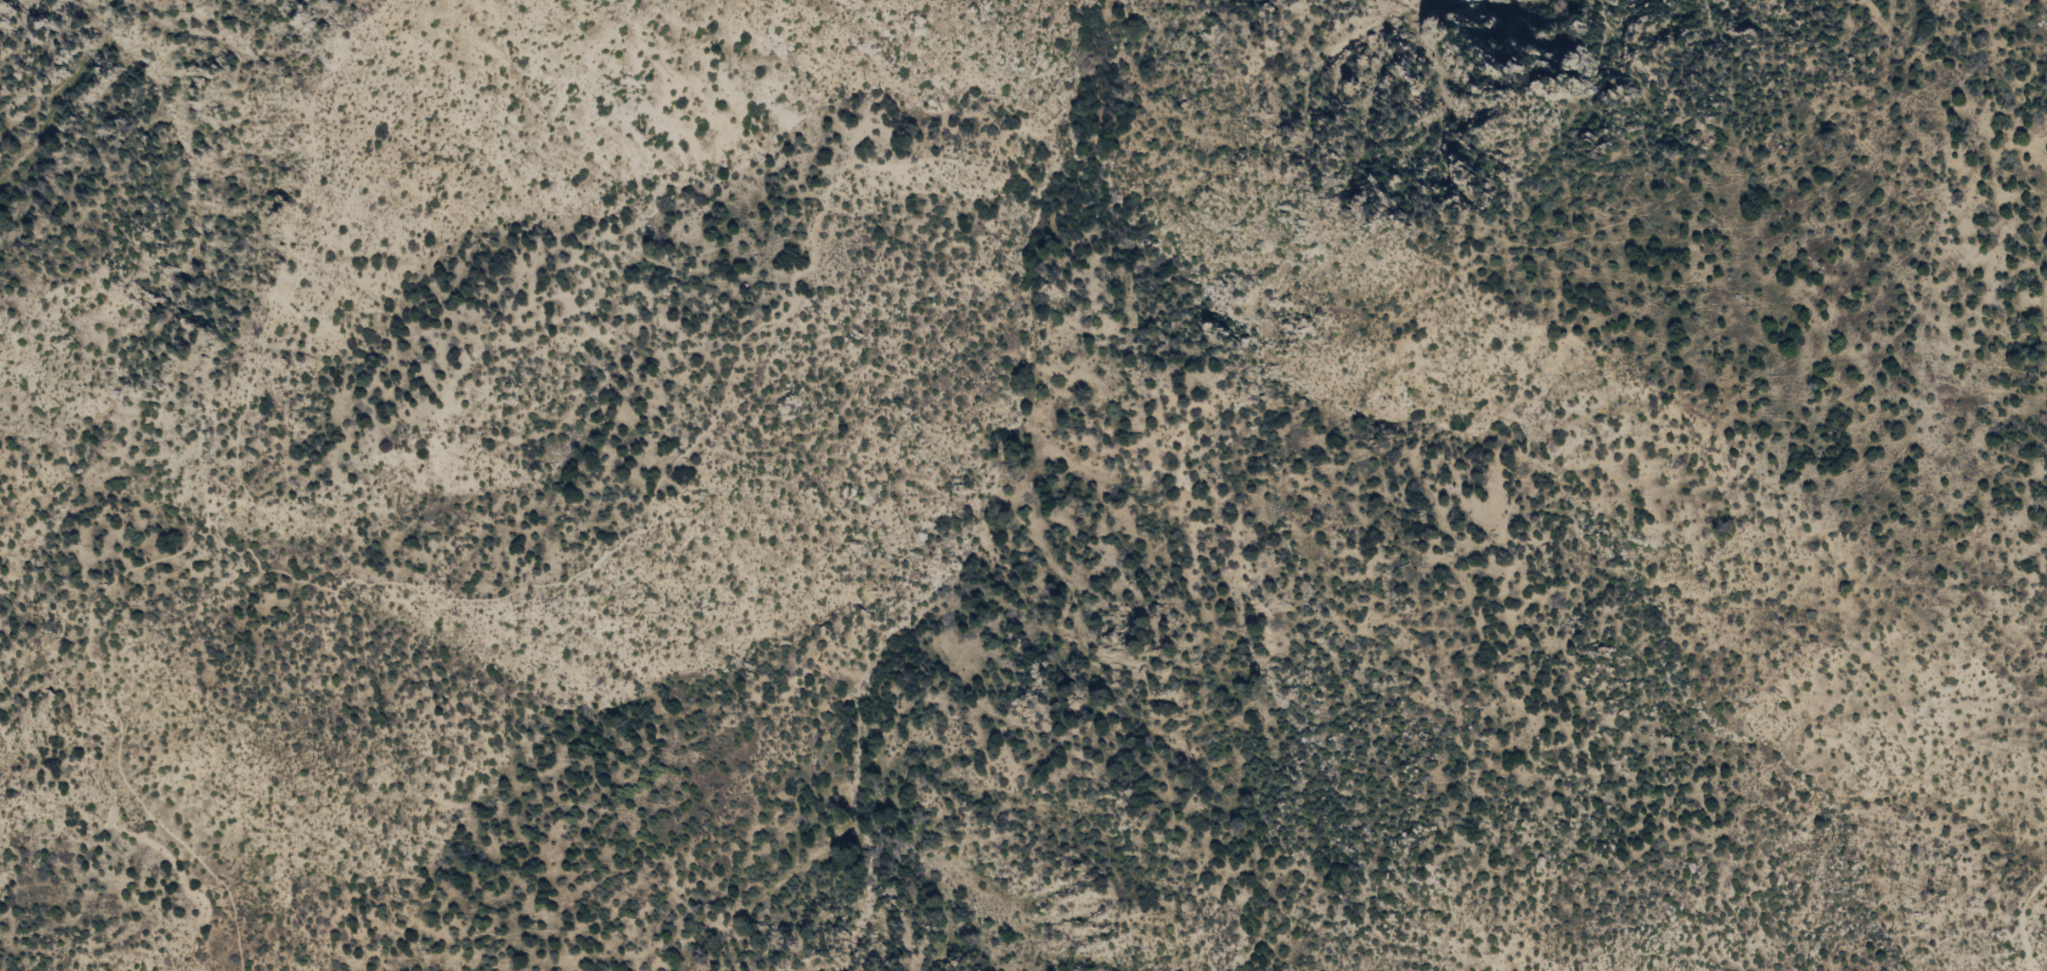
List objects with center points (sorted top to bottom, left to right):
road: (1443, 6)
road: (1483, 19)
road: (558, 536)

